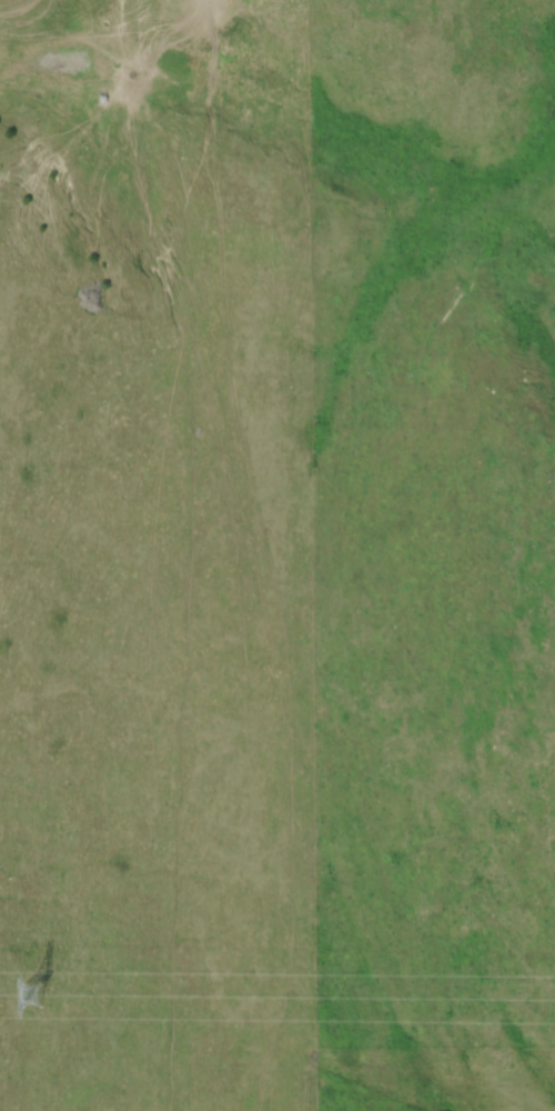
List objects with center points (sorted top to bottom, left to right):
power tower: (33, 997)

